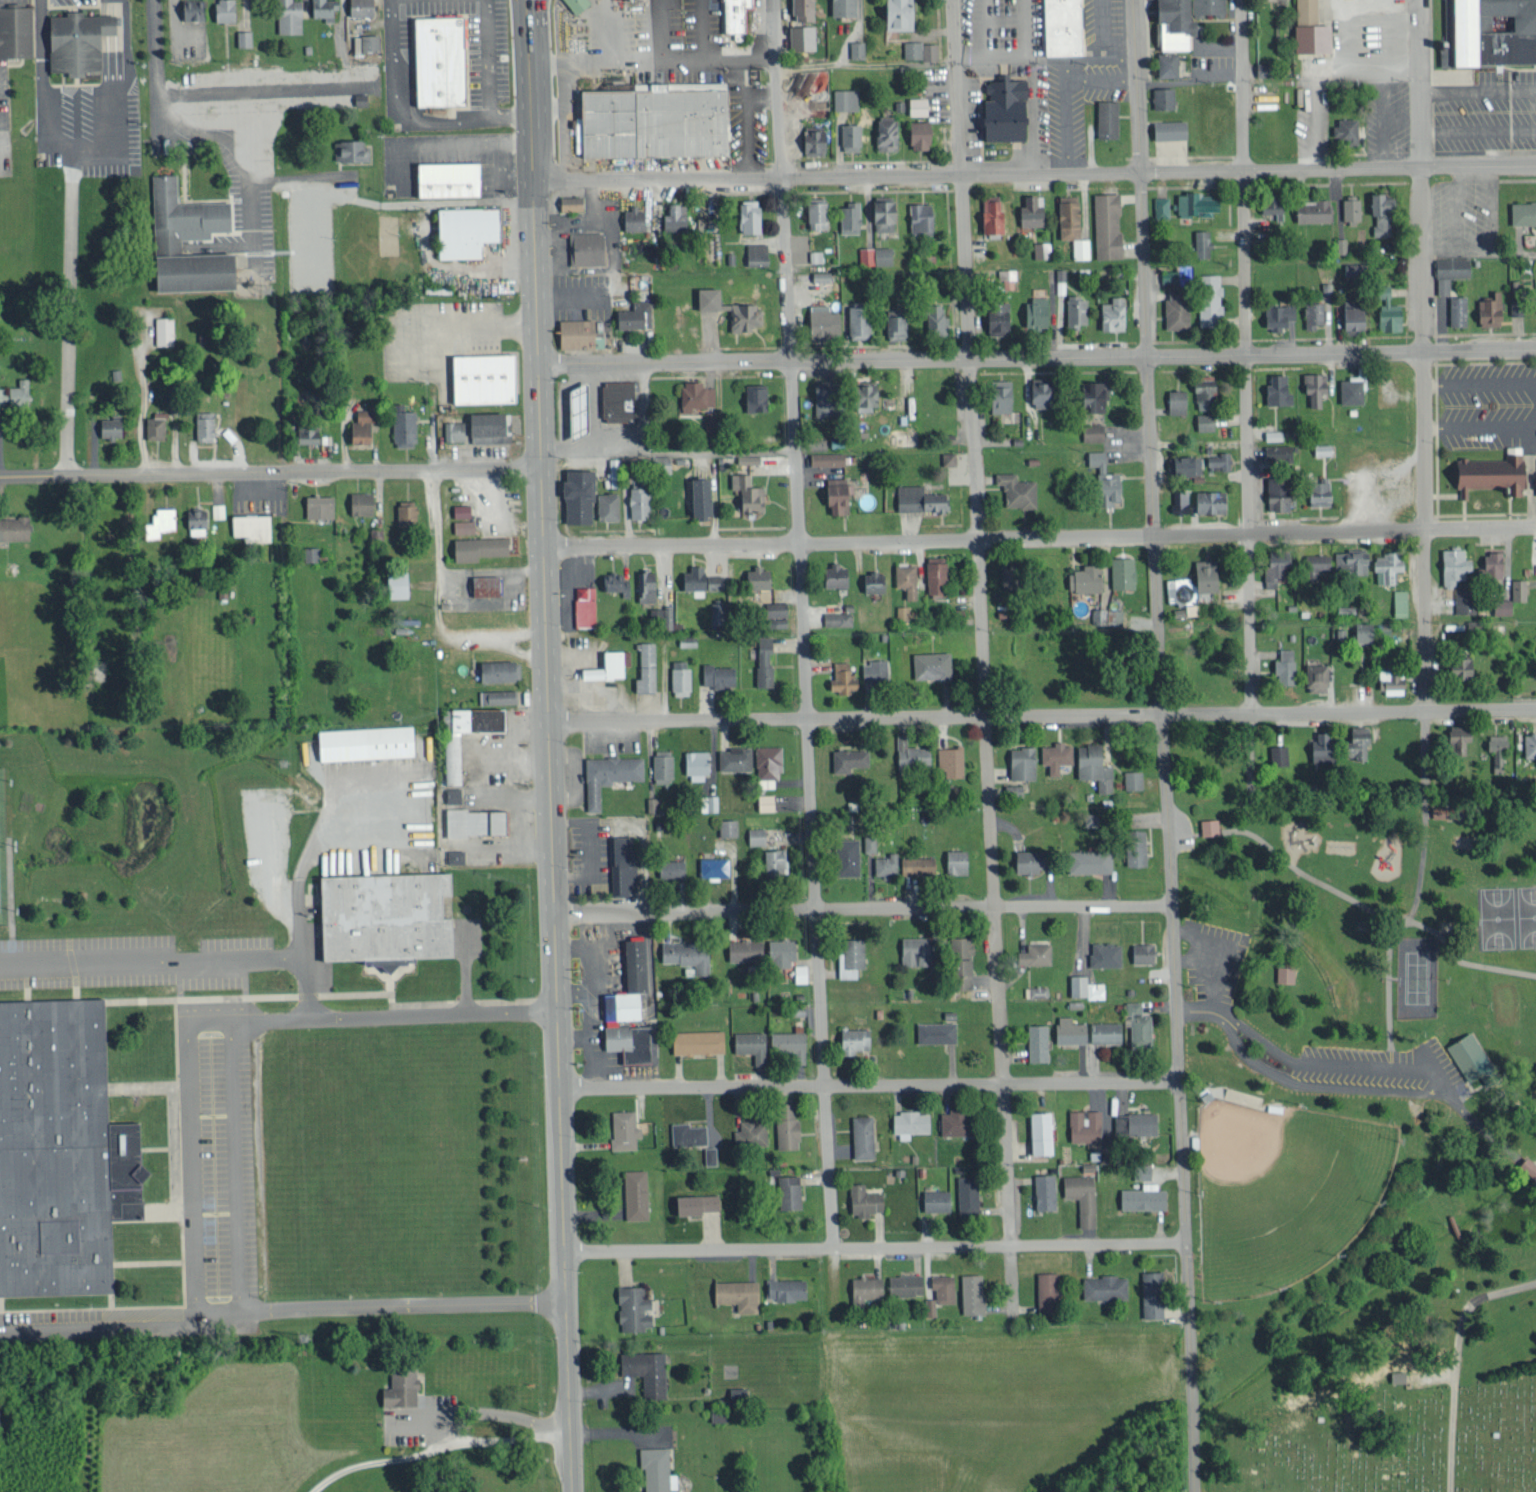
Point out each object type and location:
building: (579, 4)
building: (324, 7)
building: (362, 7)
building: (845, 7)
building: (194, 9)
building: (805, 9)
building: (226, 10)
building: (903, 14)
building: (290, 15)
building: (738, 17)
building: (1174, 24)
building: (1064, 27)
building: (1312, 28)
building: (16, 31)
building: (1488, 33)
road: (526, 34)
building: (803, 36)
building: (244, 37)
building: (77, 42)
building: (366, 42)
road: (118, 45)
road: (111, 48)
building: (857, 48)
building: (913, 48)
road: (103, 49)
building: (930, 50)
road: (487, 57)
building: (439, 63)
building: (1168, 63)
road: (158, 67)
building: (1264, 68)
building: (1164, 97)
building: (845, 98)
building: (918, 105)
building: (1004, 110)
parking lot: (1486, 110)
road: (402, 116)
building: (1109, 118)
building: (658, 119)
building: (1171, 129)
building: (1348, 129)
building: (887, 131)
building: (921, 134)
building: (851, 136)
building: (816, 140)
road: (81, 141)
building: (352, 150)
road: (1034, 171)
building: (448, 181)
building: (573, 202)
building: (1198, 202)
building: (1161, 207)
building: (1351, 207)
building: (1273, 208)
building: (1033, 210)
building: (1315, 210)
building: (1521, 211)
building: (1383, 212)
building: (885, 213)
building: (819, 214)
building: (752, 215)
building: (994, 215)
building: (922, 216)
building: (850, 217)
building: (634, 218)
building: (676, 218)
building: (1073, 224)
building: (1107, 224)
building: (469, 230)
building: (1202, 242)
building: (167, 243)
building: (588, 247)
building: (1041, 248)
building: (758, 252)
building: (816, 254)
building: (875, 254)
building: (1451, 270)
building: (1055, 273)
power tower: (268, 291)
building: (1534, 302)
building: (1212, 303)
building: (732, 307)
building: (1178, 307)
building: (1491, 307)
road: (68, 308)
building: (1077, 308)
building: (1457, 309)
building: (1038, 310)
building: (1390, 311)
building: (1115, 312)
building: (1314, 312)
building: (1280, 313)
building: (635, 314)
building: (999, 315)
building: (1356, 317)
building: (937, 319)
building: (860, 320)
building: (826, 321)
building: (898, 324)
building: (165, 329)
building: (579, 332)
parking lot: (435, 335)
road: (1036, 355)
road: (1247, 357)
road: (1144, 358)
building: (487, 376)
road: (1422, 380)
building: (1315, 385)
building: (1354, 386)
building: (1278, 389)
building: (16, 390)
building: (1043, 391)
building: (1206, 392)
building: (870, 393)
building: (697, 394)
building: (1098, 394)
building: (757, 396)
building: (827, 398)
building: (1002, 398)
gas station: (618, 399)
building: (619, 399)
building: (1177, 400)
parking lot: (1486, 404)
building: (177, 406)
building: (581, 408)
building: (711, 419)
building: (1205, 420)
building: (205, 424)
building: (110, 425)
building: (405, 425)
building: (155, 426)
building: (479, 427)
building: (360, 429)
building: (309, 431)
building: (1093, 431)
building: (906, 437)
building: (1324, 448)
building: (1279, 450)
building: (949, 456)
building: (749, 457)
building: (827, 457)
building: (1220, 458)
building: (1187, 463)
road: (270, 471)
building: (1490, 474)
building: (1107, 477)
building: (1018, 488)
building: (749, 491)
building: (1280, 491)
building: (1321, 491)
building: (580, 494)
building: (839, 494)
building: (704, 495)
building: (641, 496)
building: (921, 497)
building: (1180, 499)
building: (1212, 499)
building: (362, 502)
building: (320, 504)
building: (609, 504)
building: (217, 509)
building: (463, 509)
building: (408, 511)
building: (198, 520)
building: (162, 521)
building: (464, 525)
building: (15, 526)
building: (252, 526)
road: (1039, 538)
road: (542, 539)
building: (479, 546)
building: (312, 552)
building: (1352, 561)
building: (1494, 562)
building: (1455, 564)
building: (1278, 565)
building: (1319, 565)
building: (1387, 565)
building: (1123, 570)
building: (1208, 573)
building: (838, 574)
building: (1011, 575)
building: (759, 576)
building: (938, 576)
building: (1087, 577)
building: (702, 578)
building: (908, 578)
building: (613, 579)
building: (874, 580)
building: (400, 583)
building: (487, 584)
building: (647, 584)
building: (1519, 588)
building: (1400, 601)
building: (585, 605)
building: (717, 611)
building: (902, 611)
building: (662, 615)
building: (839, 617)
road: (802, 624)
building: (1367, 631)
road: (982, 643)
building: (765, 660)
building: (1285, 661)
building: (933, 664)
building: (609, 665)
building: (646, 666)
building: (1466, 667)
building: (501, 669)
building: (875, 671)
building: (719, 674)
building: (681, 675)
building: (1319, 675)
building: (844, 676)
building: (1393, 679)
building: (498, 695)
road: (1042, 718)
building: (1461, 734)
building: (1360, 740)
building: (368, 741)
building: (1530, 743)
building: (1325, 746)
building: (1497, 748)
building: (912, 753)
building: (1279, 753)
building: (453, 755)
building: (1057, 755)
building: (735, 757)
building: (850, 758)
building: (951, 760)
building: (1024, 761)
building: (663, 764)
building: (697, 764)
building: (768, 764)
building: (1094, 764)
building: (609, 774)
building: (1133, 778)
building: (454, 793)
building: (767, 800)
building: (712, 801)
building: (652, 803)
building: (1448, 810)
building: (477, 820)
building: (1210, 825)
building: (728, 826)
building: (756, 834)
building: (869, 842)
building: (1138, 850)
building: (457, 855)
building: (850, 855)
building: (1034, 859)
building: (776, 860)
building: (958, 860)
building: (1092, 860)
park: (1, 861)
building: (626, 863)
building: (887, 863)
building: (920, 864)
building: (714, 865)
building: (672, 868)
road: (860, 907)
park: (1509, 918)
building: (385, 920)
building: (746, 949)
building: (917, 949)
building: (782, 951)
building: (1144, 951)
building: (1037, 952)
building: (1106, 952)
building: (687, 953)
building: (964, 953)
building: (852, 955)
road: (303, 956)
road: (121, 959)
building: (802, 972)
building: (1286, 972)
park: (1417, 979)
building: (1078, 983)
building: (630, 1007)
road: (228, 1021)
building: (1140, 1026)
building: (1070, 1029)
building: (1106, 1030)
building: (937, 1031)
building: (855, 1039)
building: (700, 1040)
building: (1038, 1041)
building: (789, 1042)
building: (752, 1044)
road: (561, 1051)
building: (1471, 1056)
road: (1287, 1076)
road: (869, 1084)
road: (1177, 1104)
park: (1358, 1104)
building: (957, 1121)
building: (911, 1122)
building: (1137, 1122)
building: (1086, 1125)
building: (625, 1128)
building: (788, 1130)
road: (1485, 1130)
building: (1043, 1131)
building: (752, 1132)
building: (690, 1133)
building: (864, 1135)
building: (60, 1152)
building: (710, 1154)
road: (233, 1164)
road: (565, 1172)
building: (790, 1190)
building: (1045, 1190)
park: (1281, 1191)
building: (636, 1193)
building: (968, 1195)
building: (1083, 1195)
building: (1145, 1196)
building: (866, 1199)
building: (938, 1199)
building: (699, 1202)
road: (875, 1248)
building: (906, 1283)
building: (1106, 1286)
building: (944, 1287)
building: (786, 1288)
building: (866, 1288)
building: (1049, 1290)
building: (972, 1292)
building: (739, 1293)
building: (1153, 1293)
road: (282, 1305)
building: (930, 1305)
building: (634, 1307)
road: (1455, 1361)
building: (647, 1370)
road: (567, 1372)
building: (1399, 1374)
building: (402, 1386)
building: (737, 1392)
road: (480, 1414)
parking lot: (420, 1418)
park: (1402, 1446)
road: (434, 1448)
building: (658, 1469)

